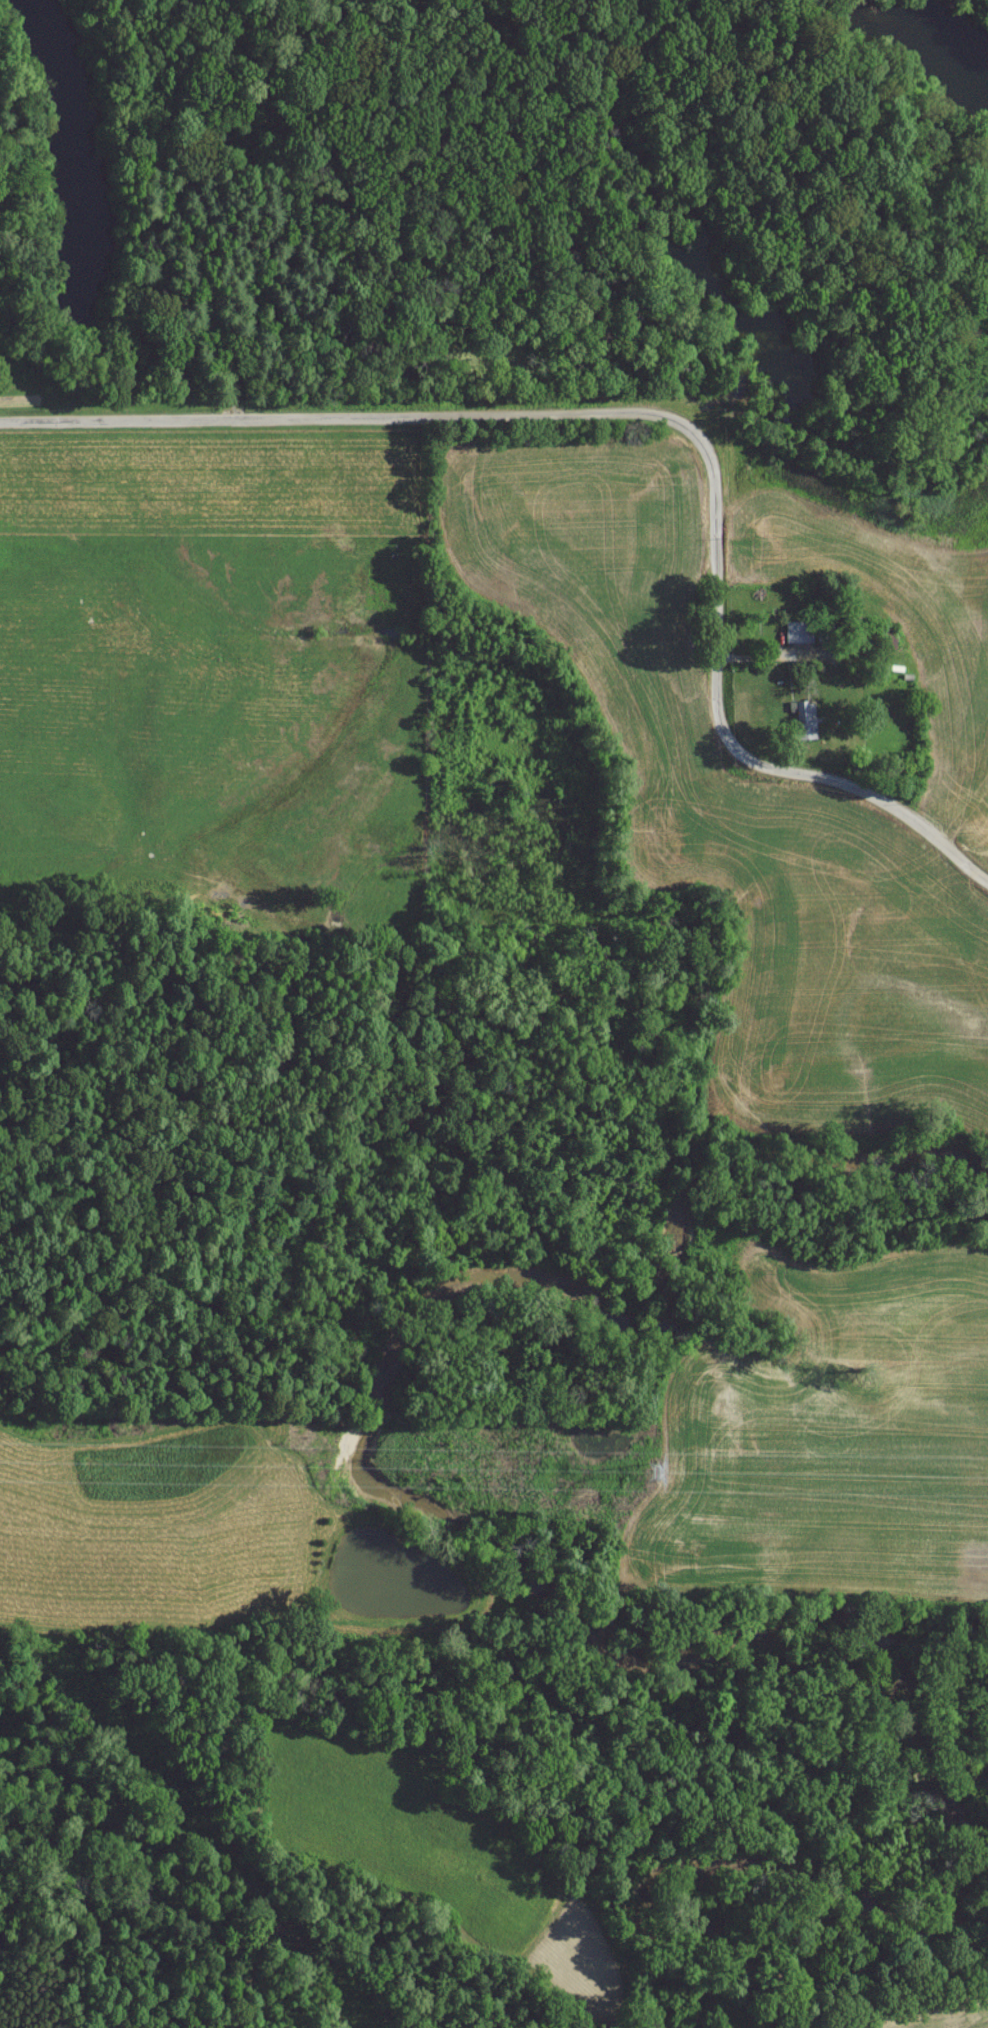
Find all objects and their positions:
road: (348, 423)
building: (799, 638)
building: (804, 725)
road: (725, 740)
power tower: (652, 1474)

